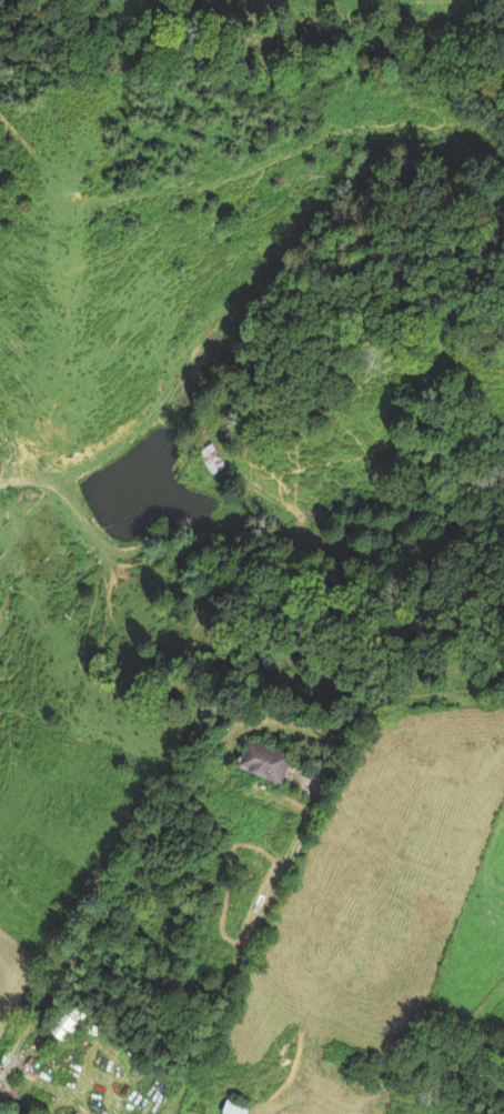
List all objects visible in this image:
building: (209, 460)
building: (264, 760)
road: (179, 992)
building: (67, 1020)
building: (235, 1107)

